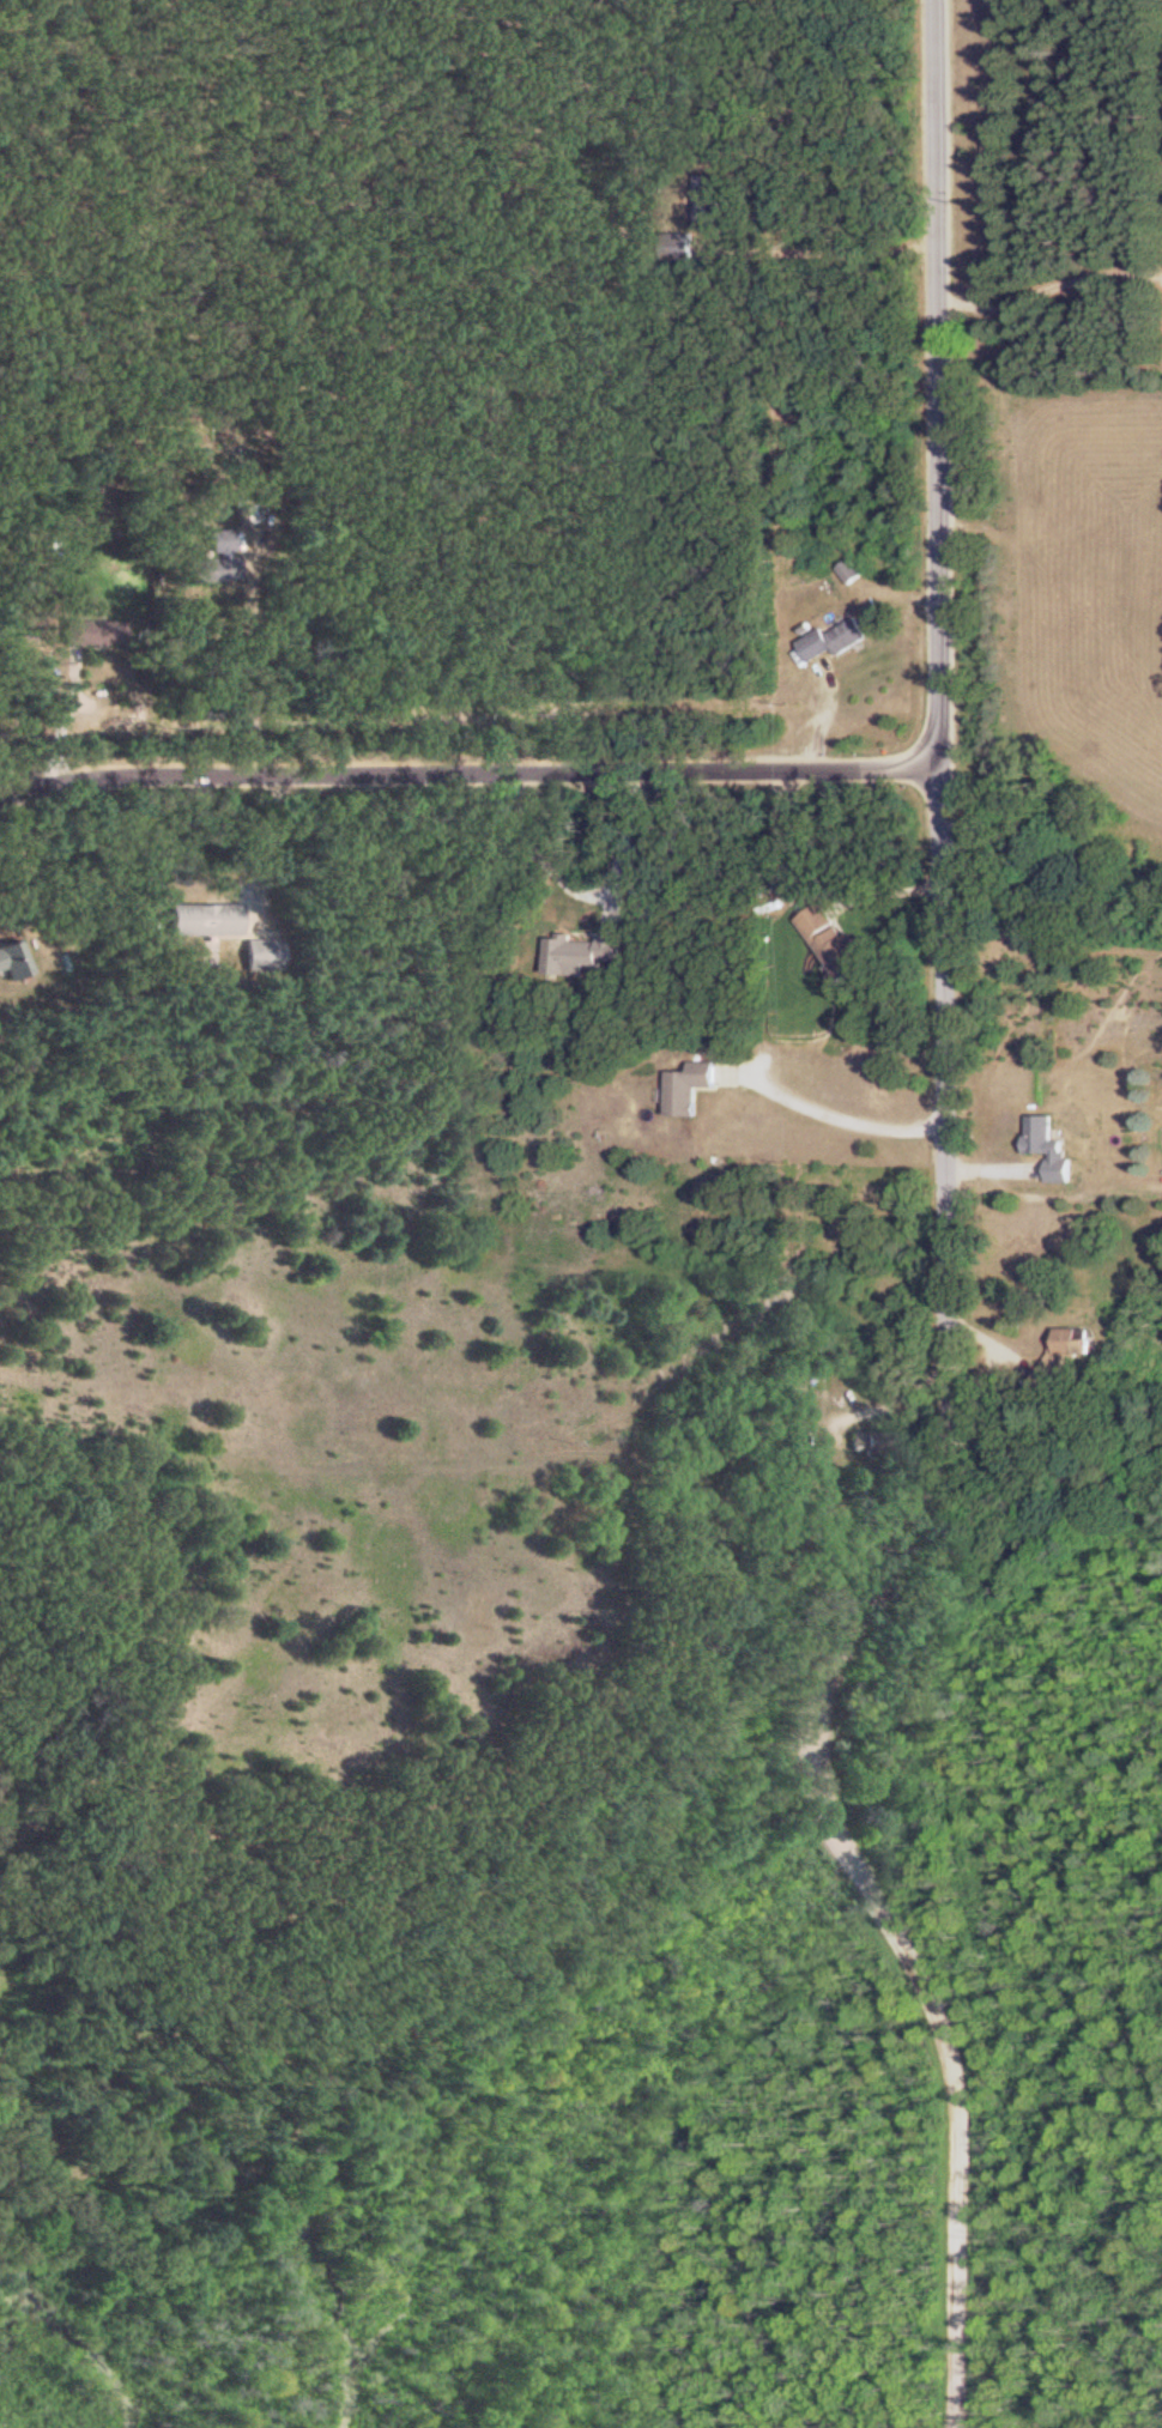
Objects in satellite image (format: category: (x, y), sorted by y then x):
building: (710, 199)
building: (682, 244)
road: (822, 249)
road: (1047, 289)
road: (934, 382)
building: (218, 557)
building: (852, 571)
building: (95, 630)
building: (839, 637)
road: (253, 671)
road: (58, 716)
road: (472, 770)
road: (266, 836)
road: (587, 889)
building: (204, 918)
building: (841, 939)
building: (591, 952)
building: (262, 953)
building: (10, 961)
building: (694, 1085)
road: (839, 1104)
building: (1052, 1148)
building: (1071, 1343)
building: (866, 1442)
road: (859, 1609)

